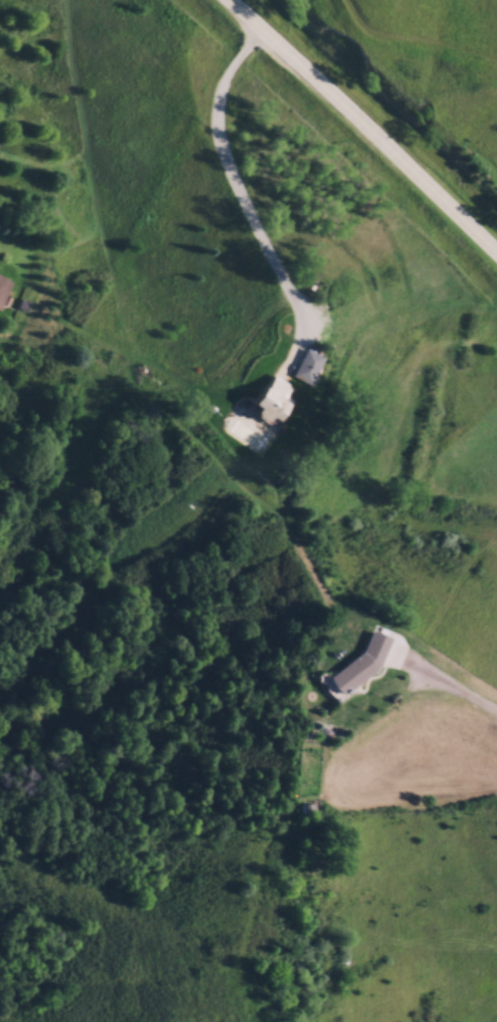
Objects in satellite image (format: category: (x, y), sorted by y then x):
road: (353, 133)
road: (236, 188)
building: (0, 277)
building: (295, 364)
building: (257, 393)
road: (446, 683)

